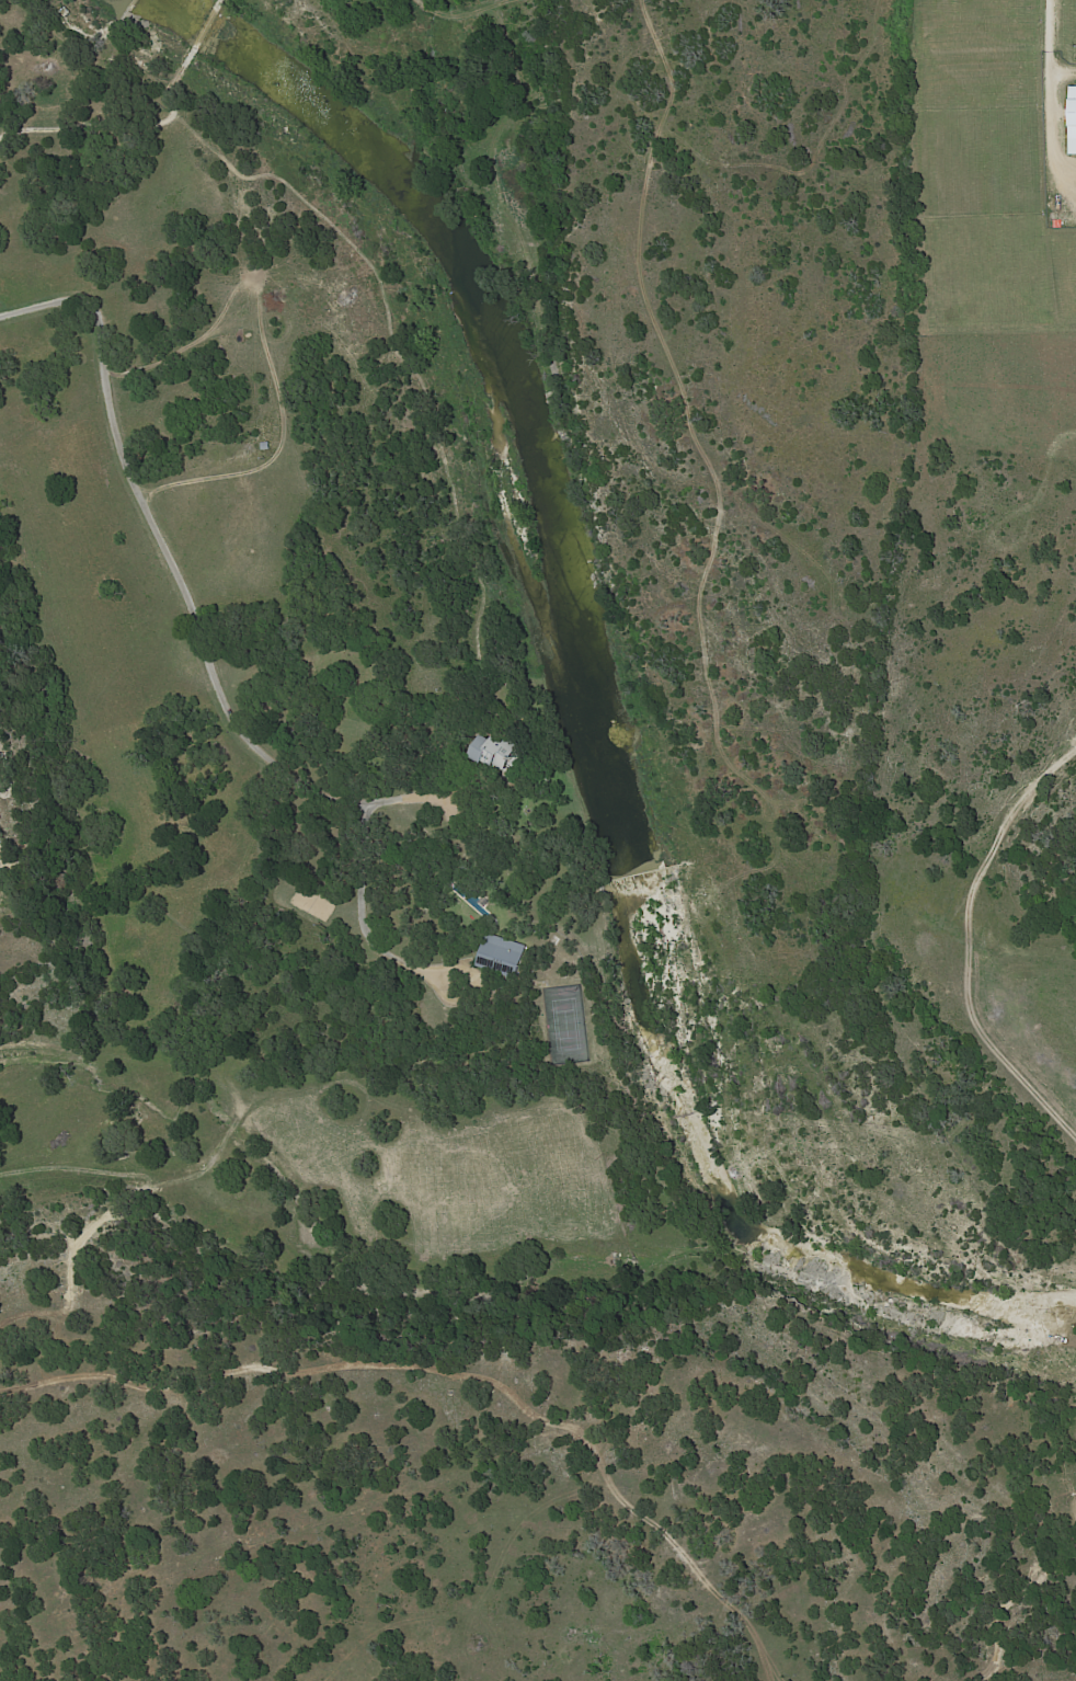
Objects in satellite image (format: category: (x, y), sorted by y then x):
road: (1050, 44)
building: (1072, 122)
building: (267, 446)
road: (201, 642)
building: (491, 751)
building: (0, 765)
building: (502, 957)

